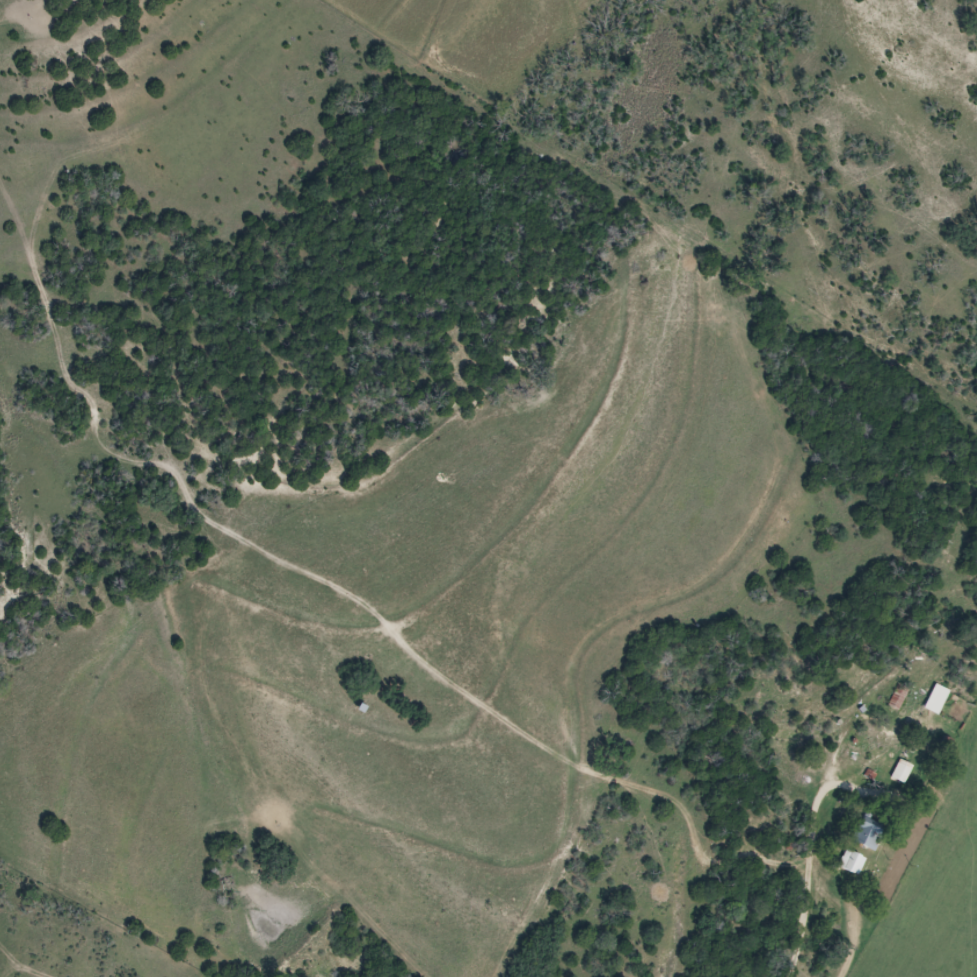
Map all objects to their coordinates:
building: (898, 699)
building: (901, 771)
building: (868, 833)
building: (852, 862)
road: (809, 878)

